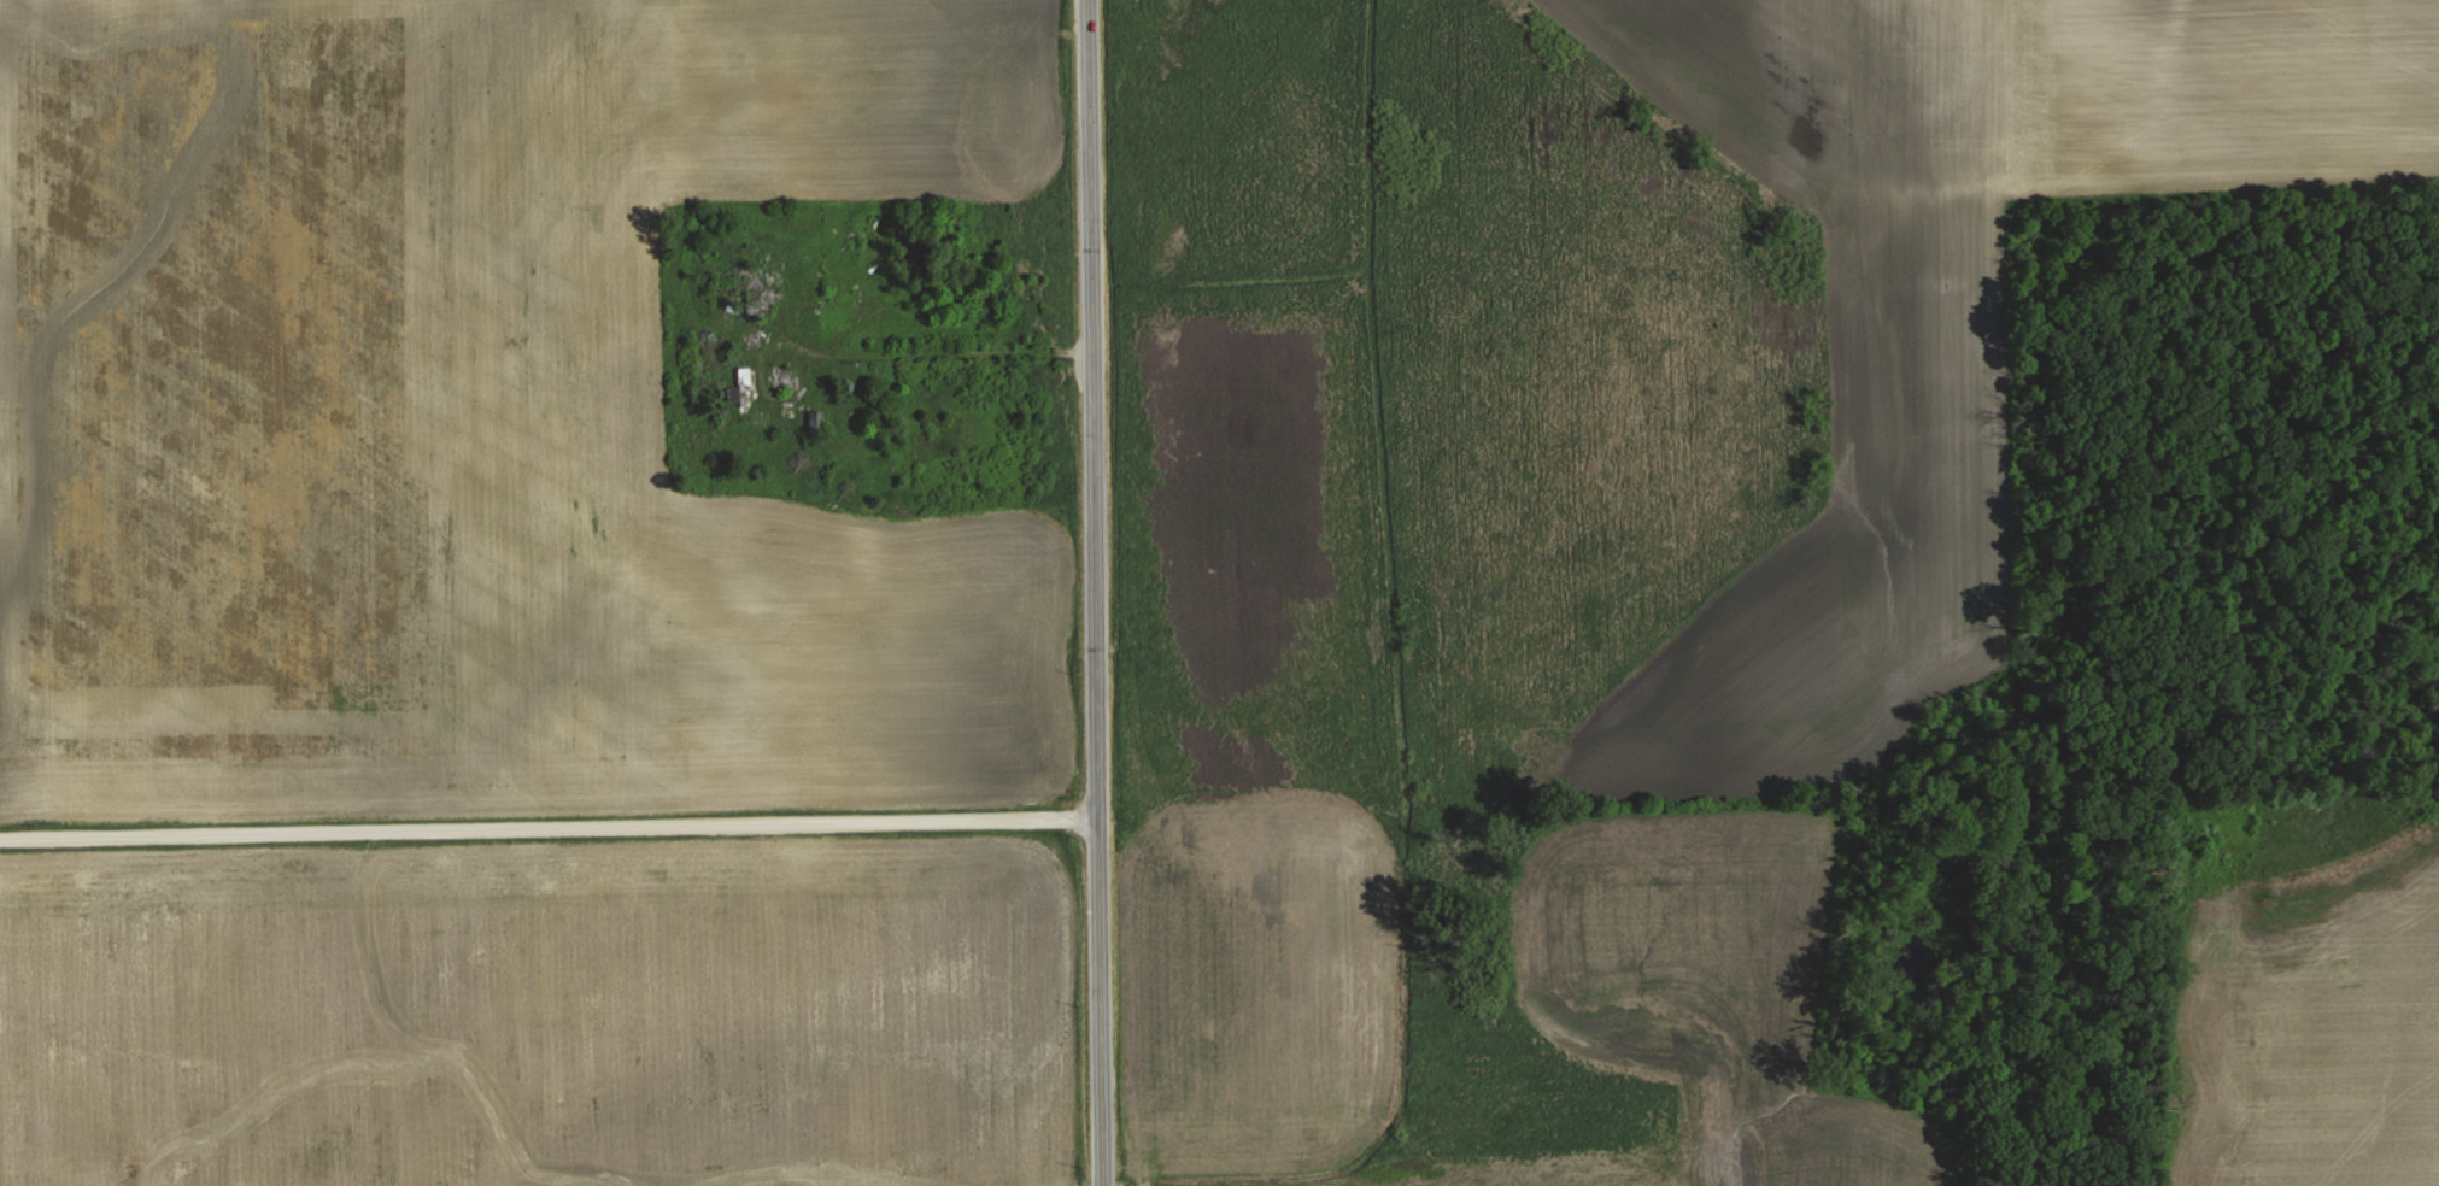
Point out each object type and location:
building: (754, 292)
road: (916, 347)
building: (705, 350)
building: (784, 376)
building: (741, 387)
building: (813, 423)
road: (1097, 593)
road: (550, 826)

